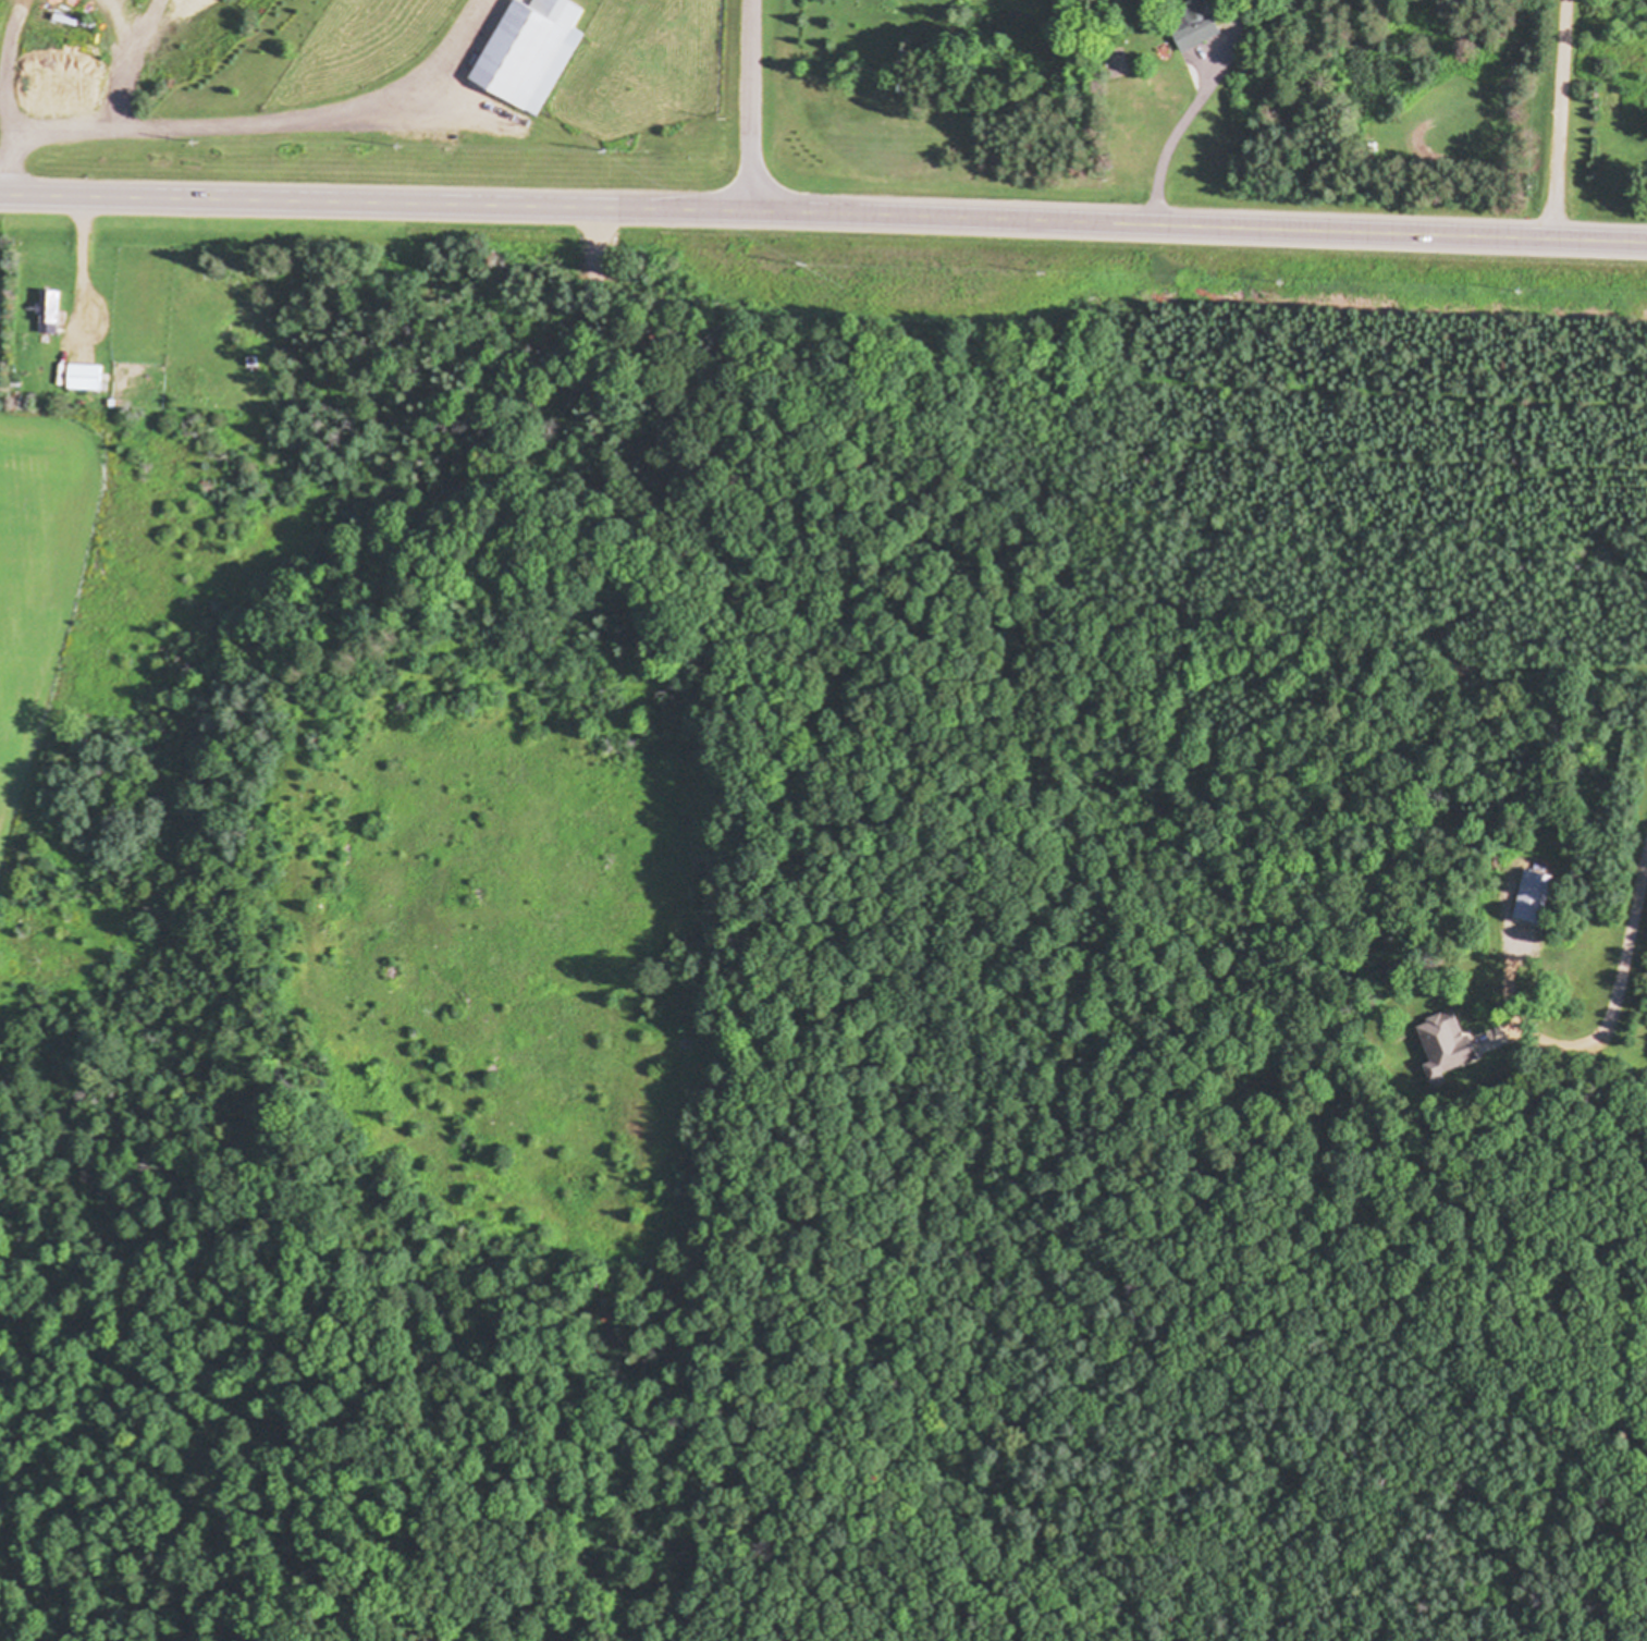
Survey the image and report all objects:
building: (1200, 25)
building: (531, 52)
road: (751, 105)
road: (1556, 120)
road: (249, 121)
road: (1177, 135)
power tower: (202, 146)
power tower: (604, 149)
power tower: (404, 150)
road: (823, 212)
road: (79, 264)
power tower: (809, 269)
power tower: (1048, 275)
power tower: (1283, 284)
power tower: (1517, 294)
building: (50, 313)
building: (86, 378)
building: (1534, 897)
road: (1618, 979)
building: (1445, 1041)

